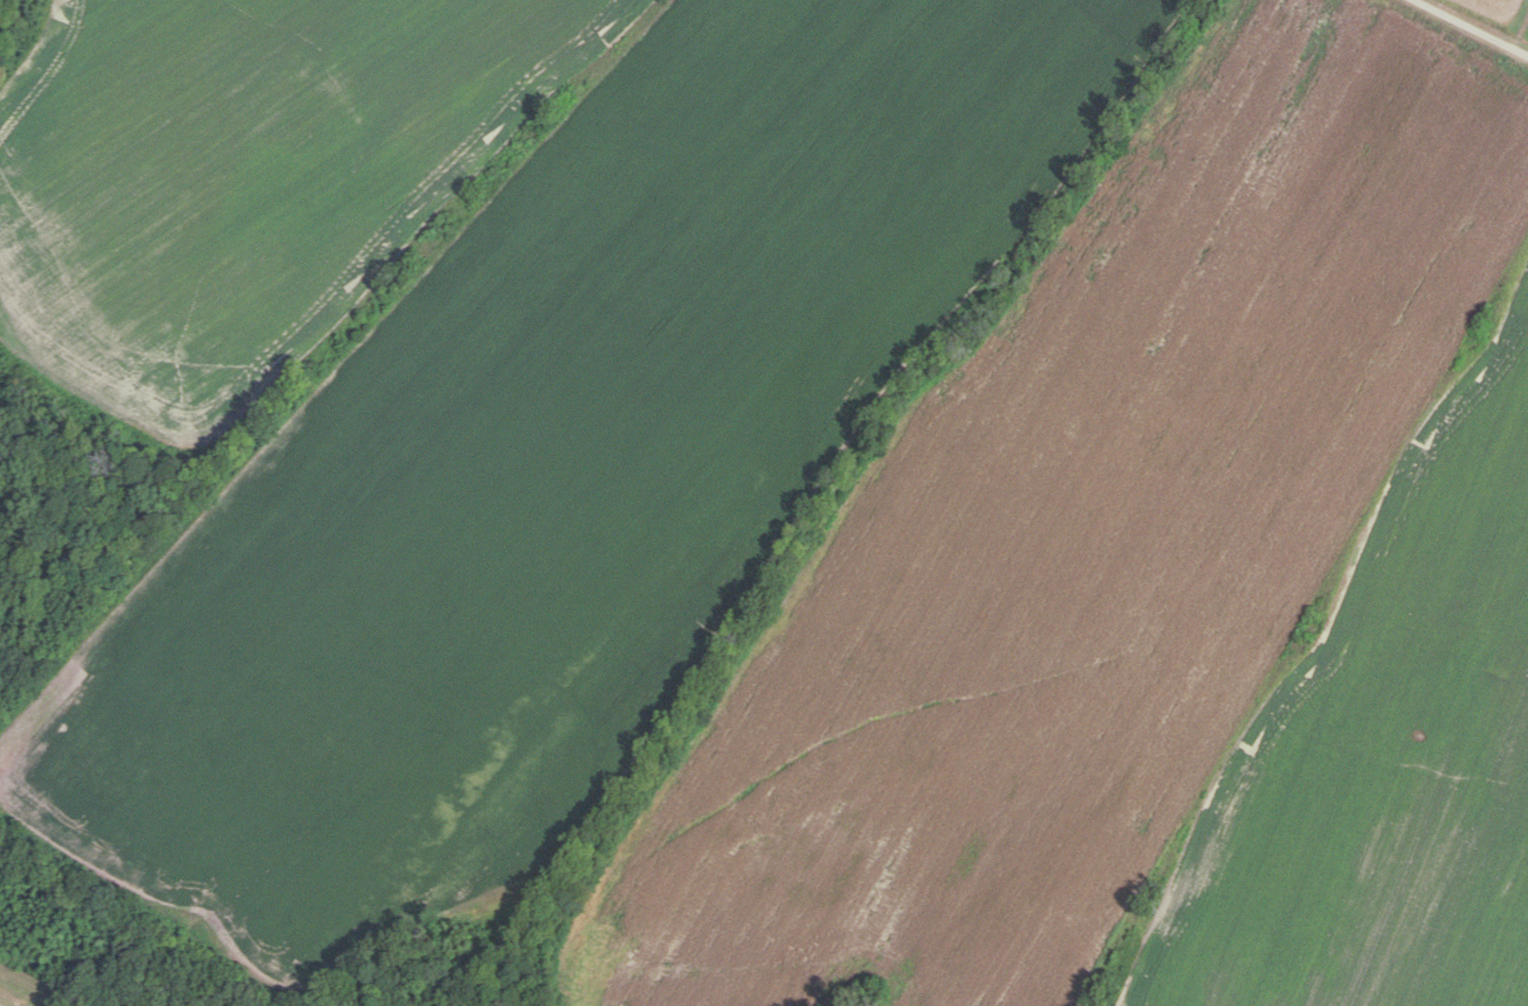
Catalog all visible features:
road: (1473, 27)

